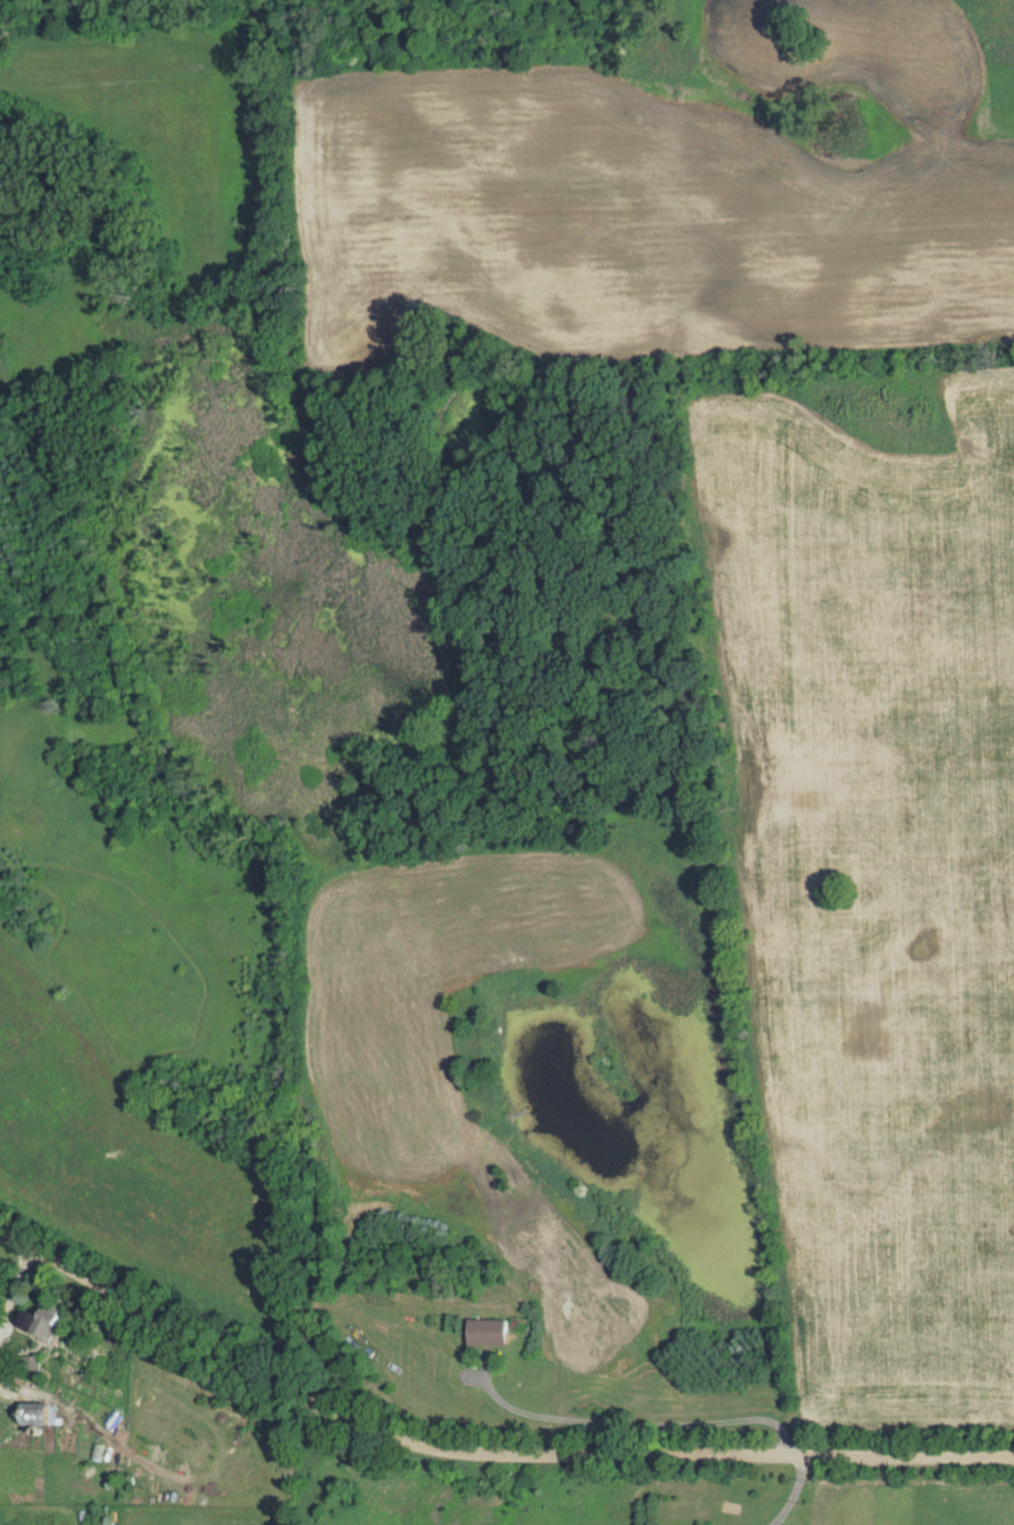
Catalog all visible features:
road: (14, 1293)
building: (46, 1324)
building: (491, 1332)
road: (480, 1455)
road: (791, 1494)

